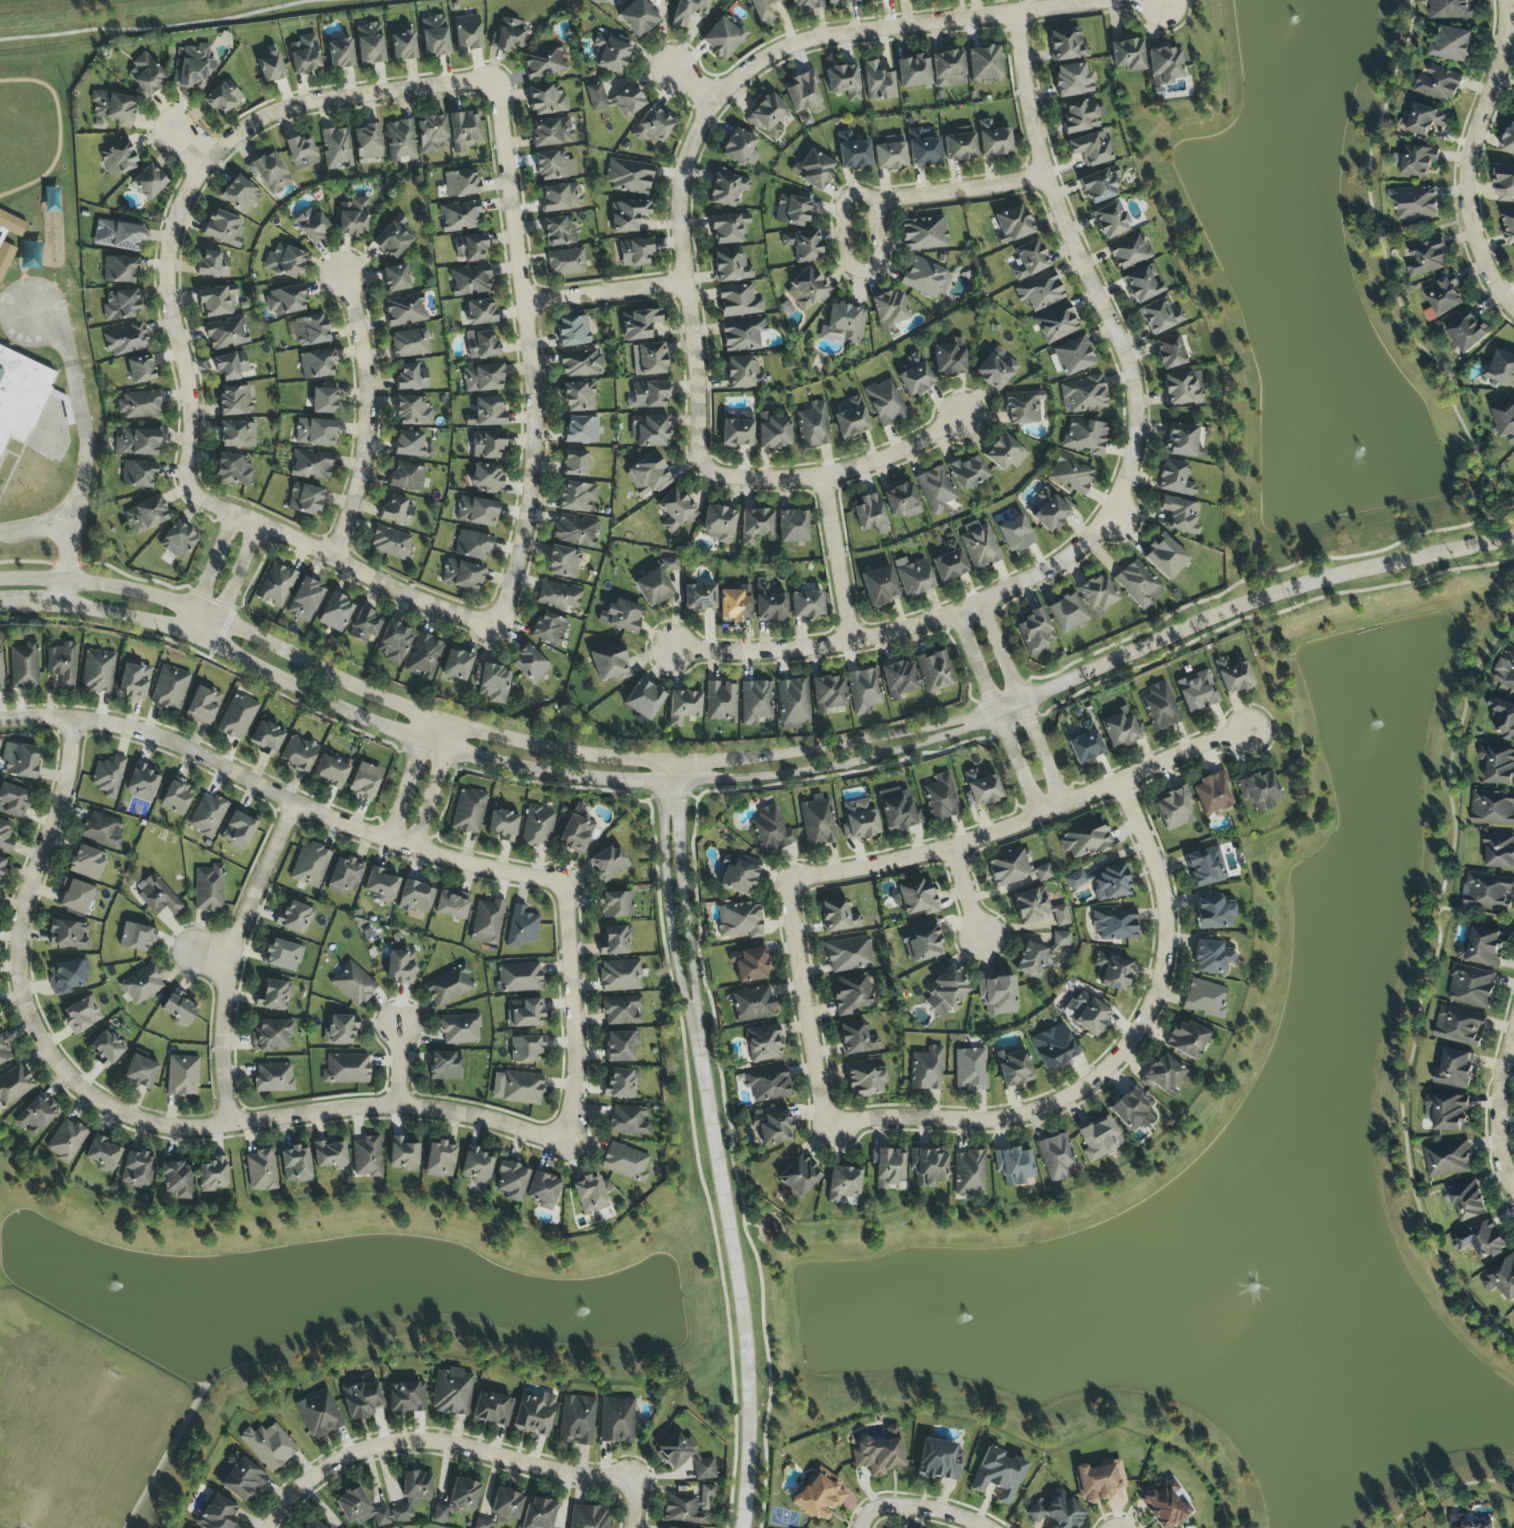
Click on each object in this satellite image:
building: (867, 0)
road: (1155, 1)
road: (1165, 1)
building: (840, 2)
building: (806, 5)
building: (1452, 9)
building: (688, 11)
building: (762, 11)
building: (638, 17)
fountain: (1302, 20)
road: (907, 25)
road: (165, 27)
building: (467, 32)
building: (508, 35)
building: (435, 36)
building: (722, 37)
building: (369, 44)
building: (402, 45)
building: (1066, 45)
building: (1452, 45)
building: (340, 53)
building: (612, 53)
building: (304, 54)
building: (1128, 55)
building: (543, 62)
building: (984, 64)
building: (194, 66)
building: (1165, 66)
building: (270, 67)
building: (948, 69)
building: (913, 72)
building: (146, 75)
building: (1072, 80)
building: (843, 81)
building: (877, 82)
road: (691, 84)
building: (1438, 85)
building: (804, 94)
building: (223, 97)
road: (343, 98)
building: (614, 99)
building: (547, 100)
building: (113, 108)
building: (1081, 115)
building: (1513, 115)
building: (767, 116)
building: (1426, 119)
building: (653, 126)
building: (463, 130)
building: (551, 132)
building: (432, 134)
building: (993, 139)
road: (195, 140)
building: (401, 141)
building: (1509, 141)
building: (367, 142)
building: (960, 144)
building: (336, 148)
building: (740, 148)
building: (923, 148)
building: (1090, 148)
building: (852, 152)
building: (301, 153)
building: (890, 153)
road: (1468, 157)
building: (118, 159)
building: (1415, 161)
building: (554, 165)
building: (813, 170)
building: (270, 173)
building: (628, 176)
building: (148, 182)
building: (461, 183)
building: (1504, 184)
building: (1100, 185)
building: (727, 188)
road: (957, 191)
building: (240, 194)
building: (559, 197)
building: (1414, 203)
building: (792, 210)
building: (627, 215)
building: (353, 216)
building: (461, 216)
building: (1110, 221)
building: (1012, 224)
building: (223, 227)
building: (312, 227)
building: (728, 228)
building: (1509, 228)
building: (559, 231)
building: (923, 233)
road: (1424, 233)
building: (117, 235)
building: (393, 238)
building: (4, 245)
building: (803, 245)
building: (470, 247)
building: (1129, 251)
building: (635, 252)
building: (1029, 259)
building: (1427, 259)
building: (284, 261)
building: (566, 262)
road: (850, 263)
building: (213, 264)
building: (731, 266)
building: (119, 269)
building: (396, 278)
building: (925, 278)
building: (470, 280)
road: (684, 282)
road: (1388, 282)
building: (1143, 284)
building: (806, 290)
building: (1040, 291)
road: (605, 293)
building: (1444, 296)
building: (217, 300)
building: (284, 300)
building: (739, 301)
building: (121, 305)
building: (405, 310)
building: (889, 310)
road: (1104, 311)
building: (480, 312)
building: (1160, 316)
road: (171, 317)
building: (1056, 323)
building: (639, 324)
building: (843, 324)
building: (311, 330)
building: (573, 331)
building: (1467, 332)
building: (744, 335)
building: (125, 340)
building: (410, 343)
building: (482, 345)
building: (1169, 352)
road: (529, 354)
building: (1073, 356)
building: (949, 357)
building: (649, 359)
building: (580, 363)
building: (317, 364)
building: (230, 366)
building: (140, 369)
building: (996, 369)
building: (1501, 369)
building: (743, 373)
building: (915, 375)
building: (411, 378)
building: (482, 378)
building: (1182, 388)
building: (20, 394)
building: (1083, 394)
building: (649, 395)
building: (579, 397)
building: (234, 400)
building: (324, 401)
building: (885, 402)
building: (138, 405)
building: (1023, 407)
building: (413, 411)
building: (486, 412)
road: (366, 417)
building: (852, 418)
building: (1504, 419)
building: (813, 425)
building: (581, 430)
building: (649, 430)
building: (737, 431)
building: (773, 431)
building: (315, 432)
building: (237, 434)
building: (1085, 437)
building: (1181, 441)
building: (137, 442)
fountain: (1357, 442)
building: (408, 444)
building: (487, 444)
road: (86, 452)
building: (1004, 452)
building: (575, 463)
building: (311, 465)
building: (233, 469)
road: (837, 472)
building: (968, 472)
building: (138, 474)
building: (1071, 474)
building: (648, 475)
building: (407, 477)
building: (487, 477)
building: (1174, 478)
building: (935, 489)
building: (577, 496)
building: (304, 499)
building: (901, 500)
building: (1048, 510)
building: (396, 511)
building: (477, 511)
building: (675, 511)
building: (870, 514)
building: (146, 515)
building: (1179, 515)
building: (718, 524)
building: (755, 525)
building: (792, 526)
road: (33, 527)
building: (575, 530)
building: (1015, 534)
building: (178, 541)
building: (390, 543)
building: (472, 545)
building: (979, 545)
building: (1164, 556)
road: (836, 559)
road: (339, 560)
building: (948, 561)
building: (563, 562)
building: (669, 564)
road: (210, 572)
building: (462, 575)
building: (913, 576)
road: (237, 582)
building: (276, 584)
building: (1139, 584)
building: (879, 586)
building: (653, 587)
building: (558, 595)
building: (1097, 595)
building: (699, 596)
building: (305, 600)
building: (769, 602)
building: (735, 603)
road: (1248, 603)
building: (806, 604)
building: (335, 613)
building: (1066, 613)
building: (621, 616)
building: (364, 626)
building: (549, 628)
building: (1034, 632)
road: (862, 640)
building: (394, 643)
road: (1002, 652)
building: (424, 656)
building: (610, 662)
building: (62, 664)
building: (530, 664)
road: (977, 664)
building: (24, 665)
building: (456, 665)
building: (935, 671)
building: (97, 672)
building: (1, 673)
building: (1505, 673)
road: (332, 675)
building: (1233, 675)
building: (898, 679)
building: (134, 680)
building: (492, 682)
building: (170, 688)
building: (864, 690)
building: (1197, 691)
building: (827, 694)
road: (327, 699)
building: (643, 699)
building: (792, 701)
building: (720, 702)
building: (755, 702)
building: (203, 705)
building: (683, 706)
building: (1160, 707)
building: (237, 717)
building: (1503, 718)
building: (1120, 728)
fountain: (1377, 732)
building: (266, 738)
building: (1085, 743)
road: (835, 745)
building: (298, 753)
road: (1045, 755)
building: (20, 760)
building: (1498, 765)
road: (832, 766)
road: (1019, 766)
building: (330, 771)
building: (108, 776)
road: (407, 777)
building: (364, 781)
building: (143, 783)
road: (436, 785)
building: (980, 789)
building: (1259, 790)
building: (1212, 793)
building: (176, 797)
building: (940, 797)
building: (12, 800)
road: (281, 803)
building: (897, 809)
building: (1173, 809)
building: (1492, 809)
building: (468, 811)
building: (207, 815)
building: (859, 820)
building: (818, 823)
building: (502, 824)
road: (1023, 824)
building: (538, 827)
building: (102, 829)
building: (238, 830)
building: (770, 830)
building: (576, 833)
building: (5, 837)
building: (1085, 837)
building: (1498, 852)
building: (87, 862)
building: (608, 864)
building: (2, 866)
building: (310, 866)
building: (1009, 866)
building: (1205, 866)
building: (1043, 872)
building: (739, 875)
building: (345, 876)
building: (1102, 882)
building: (381, 884)
road: (685, 887)
building: (209, 889)
road: (666, 889)
road: (967, 892)
building: (1488, 892)
building: (157, 895)
building: (76, 896)
building: (415, 897)
building: (916, 897)
building: (452, 904)
building: (616, 905)
building: (1038, 907)
building: (1213, 911)
road: (1476, 915)
building: (837, 916)
building: (295, 918)
building: (740, 919)
building: (487, 922)
building: (1114, 923)
building: (522, 927)
building: (68, 934)
building: (136, 937)
building: (613, 940)
building: (921, 944)
building: (1482, 948)
road: (214, 949)
building: (848, 954)
building: (1040, 954)
building: (283, 955)
building: (1212, 955)
road: (229, 960)
building: (749, 964)
building: (401, 967)
building: (1112, 972)
building: (620, 975)
building: (67, 977)
building: (519, 978)
building: (143, 984)
building: (353, 984)
road: (22, 986)
building: (449, 986)
building: (1471, 987)
road: (1423, 988)
building: (946, 991)
building: (273, 995)
building: (849, 995)
building: (997, 996)
building: (1205, 998)
building: (753, 1004)
road: (806, 1005)
building: (179, 1008)
building: (622, 1010)
road: (576, 1012)
building: (523, 1013)
building: (1088, 1013)
building: (81, 1014)
building: (1459, 1027)
building: (339, 1029)
building: (460, 1029)
building: (270, 1035)
building: (857, 1039)
building: (1186, 1039)
building: (763, 1043)
building: (1054, 1046)
building: (619, 1047)
building: (106, 1048)
building: (526, 1049)
building: (3, 1052)
road: (402, 1062)
road: (1114, 1063)
building: (445, 1066)
building: (1014, 1067)
building: (346, 1069)
building: (927, 1069)
building: (970, 1069)
building: (1454, 1070)
building: (141, 1072)
building: (182, 1075)
building: (1164, 1075)
building: (273, 1077)
building: (865, 1078)
building: (621, 1083)
building: (767, 1084)
building: (14, 1085)
building: (517, 1087)
road: (404, 1106)
building: (1132, 1110)
building: (1448, 1112)
road: (1500, 1112)
building: (35, 1116)
building: (629, 1121)
building: (773, 1125)
building: (1099, 1138)
building: (66, 1140)
building: (103, 1154)
building: (330, 1155)
building: (403, 1155)
building: (367, 1157)
building: (1056, 1157)
building: (1447, 1159)
building: (440, 1160)
building: (625, 1162)
building: (295, 1165)
building: (1014, 1165)
building: (477, 1166)
building: (888, 1167)
building: (928, 1167)
building: (136, 1170)
building: (261, 1171)
building: (970, 1173)
building: (798, 1174)
building: (212, 1175)
building: (176, 1179)
building: (511, 1181)
building: (843, 1184)
building: (544, 1190)
building: (590, 1193)
building: (1466, 1199)
building: (1482, 1241)
road: (738, 1270)
building: (1502, 1279)
fountain: (120, 1280)
fountain: (1256, 1292)
fountain: (968, 1302)
fountain: (588, 1315)
building: (451, 1392)
building: (406, 1397)
building: (360, 1398)
building: (492, 1408)
building: (319, 1414)
building: (534, 1414)
building: (577, 1420)
building: (616, 1420)
road: (435, 1442)
building: (269, 1445)
building: (674, 1450)
building: (879, 1452)
building: (939, 1460)
building: (704, 1468)
building: (998, 1475)
building: (241, 1478)
building: (1099, 1482)
road: (1449, 1490)
building: (705, 1493)
building: (413, 1494)
building: (819, 1494)
building: (458, 1499)
building: (1164, 1504)
building: (506, 1505)
road: (635, 1505)
building: (359, 1508)
road: (921, 1508)
building: (683, 1510)
building: (1056, 1510)
building: (216, 1513)
building: (539, 1513)
building: (588, 1517)
building: (482, 1523)
building: (313, 1525)
building: (1478, 1525)
building: (666, 1527)

